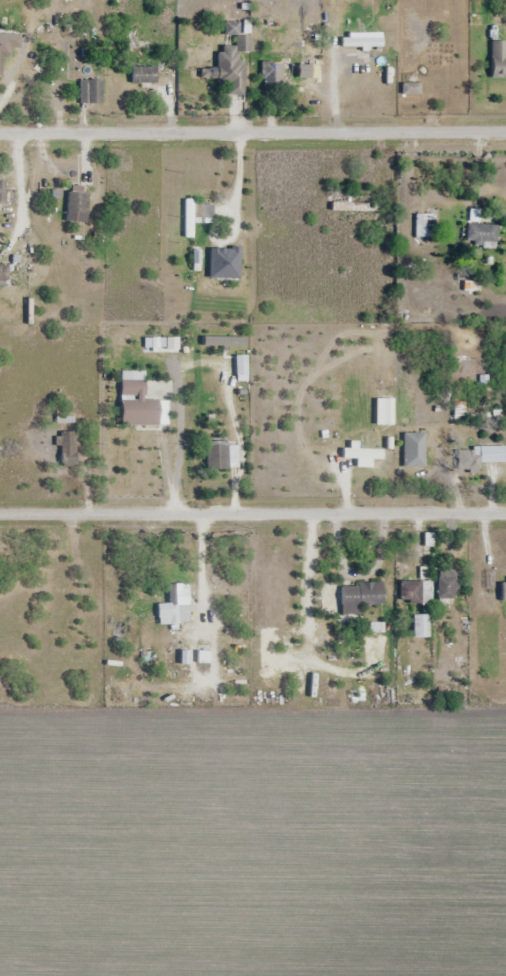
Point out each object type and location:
building: (361, 41)
building: (4, 56)
building: (498, 59)
building: (230, 67)
building: (144, 75)
building: (278, 75)
building: (310, 79)
building: (91, 92)
road: (253, 132)
building: (5, 193)
building: (354, 204)
building: (78, 206)
building: (196, 215)
building: (424, 225)
building: (482, 235)
building: (4, 274)
building: (222, 340)
building: (241, 368)
building: (140, 413)
building: (68, 450)
building: (217, 457)
building: (479, 457)
road: (253, 514)
building: (502, 584)
building: (447, 586)
building: (411, 592)
building: (361, 597)
building: (175, 606)
building: (420, 626)
building: (203, 657)

